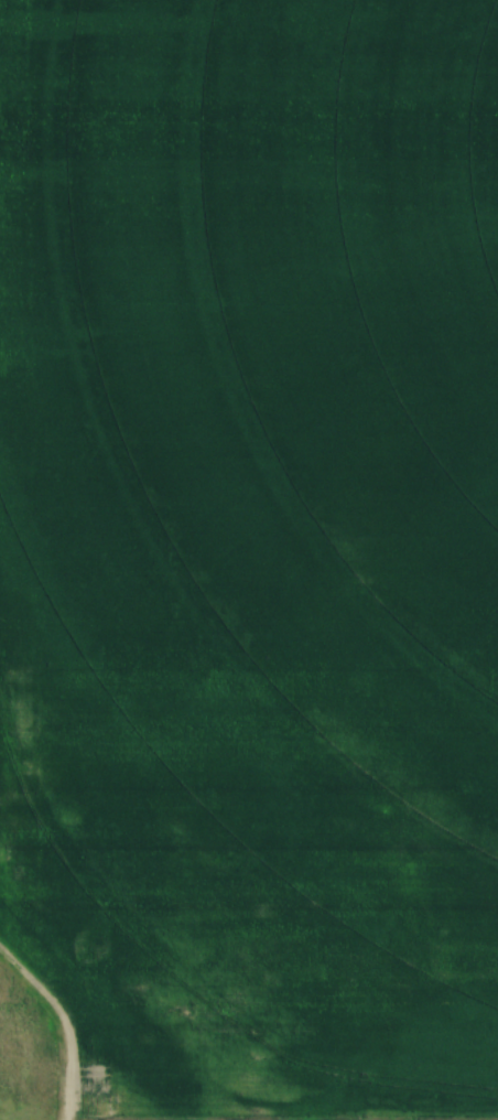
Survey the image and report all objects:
road: (64, 1042)

